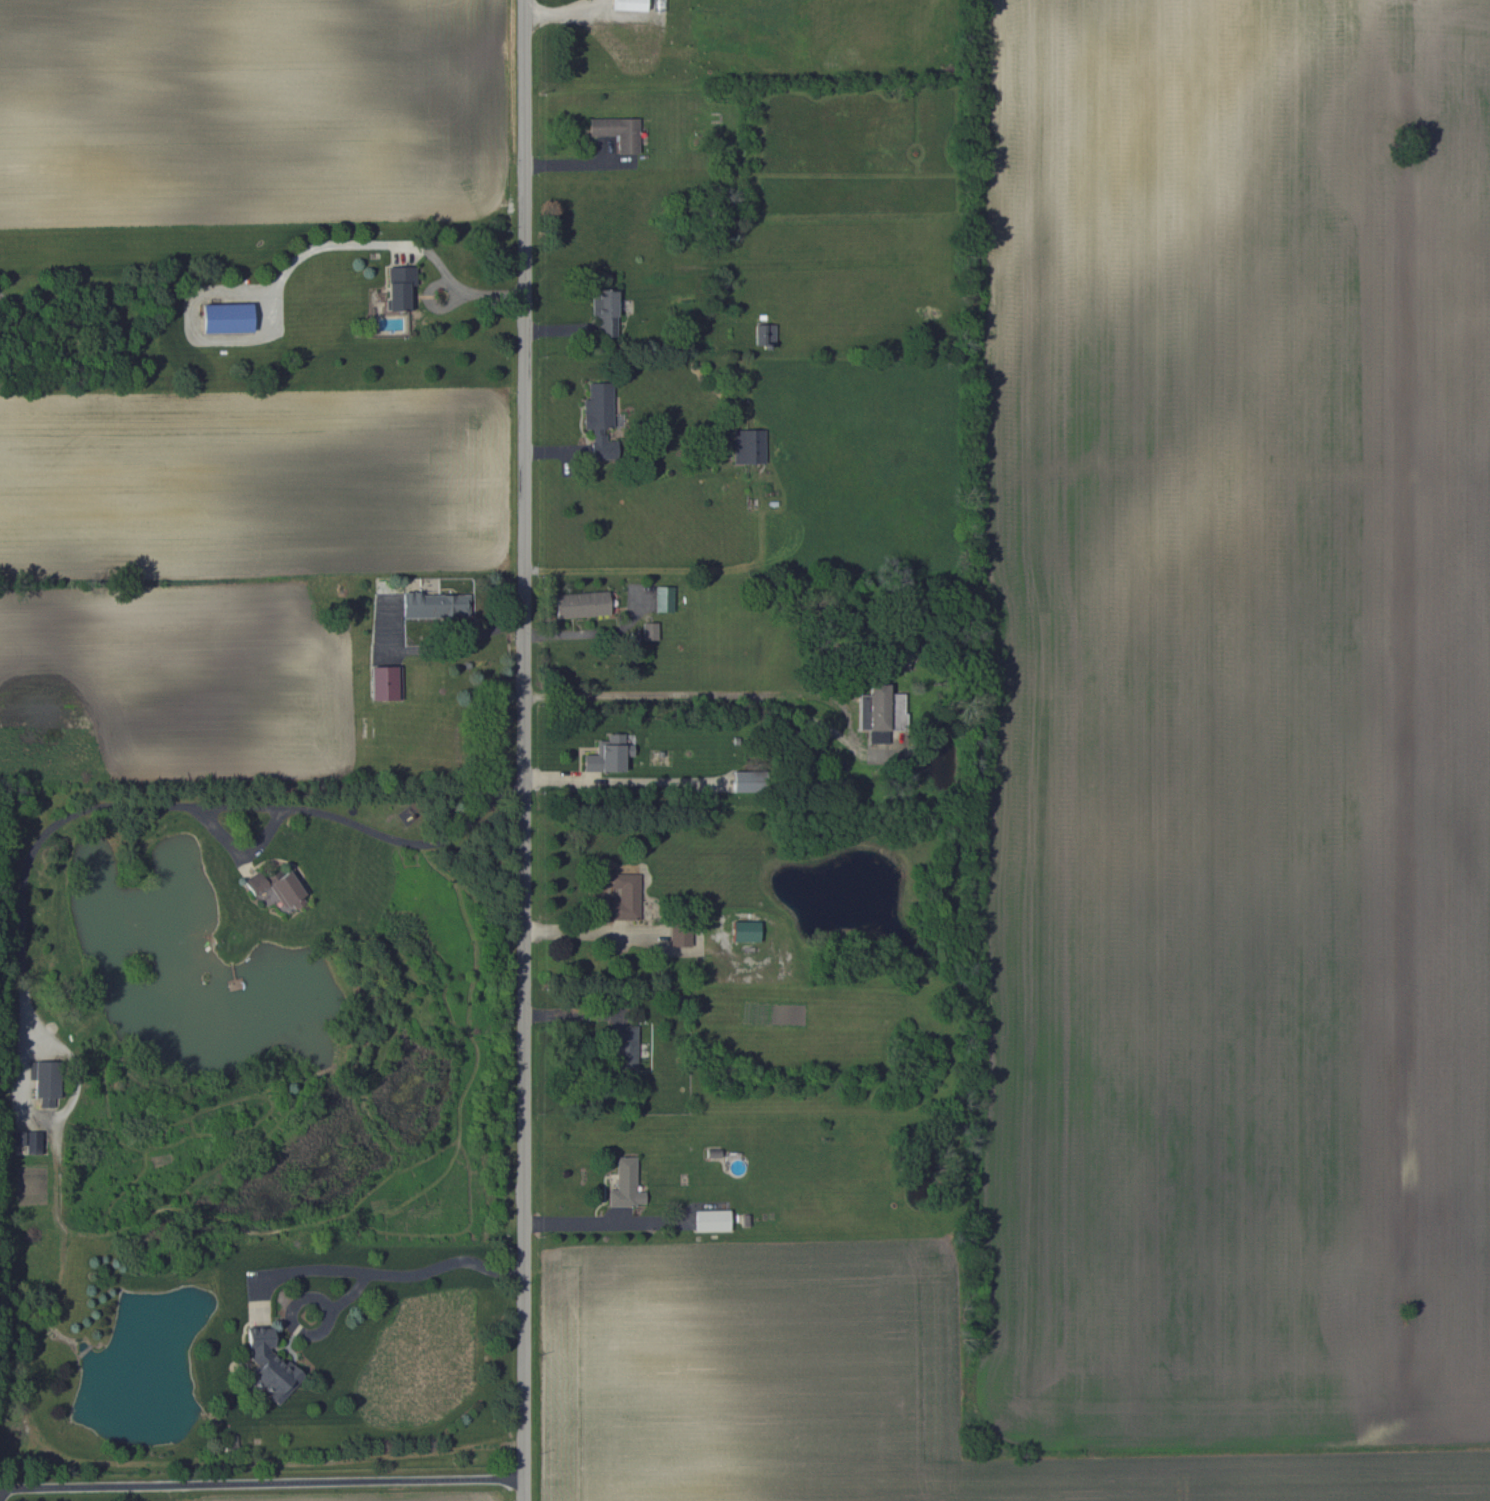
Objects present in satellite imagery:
building: (627, 5)
building: (615, 131)
road: (566, 165)
road: (381, 244)
building: (397, 287)
building: (602, 310)
building: (221, 317)
building: (762, 334)
building: (596, 418)
building: (746, 446)
road: (658, 569)
building: (662, 598)
building: (431, 604)
building: (578, 604)
building: (648, 631)
building: (382, 682)
road: (678, 696)
building: (876, 707)
road: (524, 750)
building: (604, 754)
building: (738, 781)
road: (165, 805)
building: (251, 884)
building: (284, 888)
building: (624, 896)
road: (579, 931)
building: (743, 931)
building: (678, 936)
road: (574, 1014)
building: (622, 1048)
building: (43, 1089)
building: (27, 1141)
building: (624, 1184)
building: (710, 1220)
road: (600, 1223)
road: (414, 1273)
building: (265, 1366)
road: (260, 1482)

